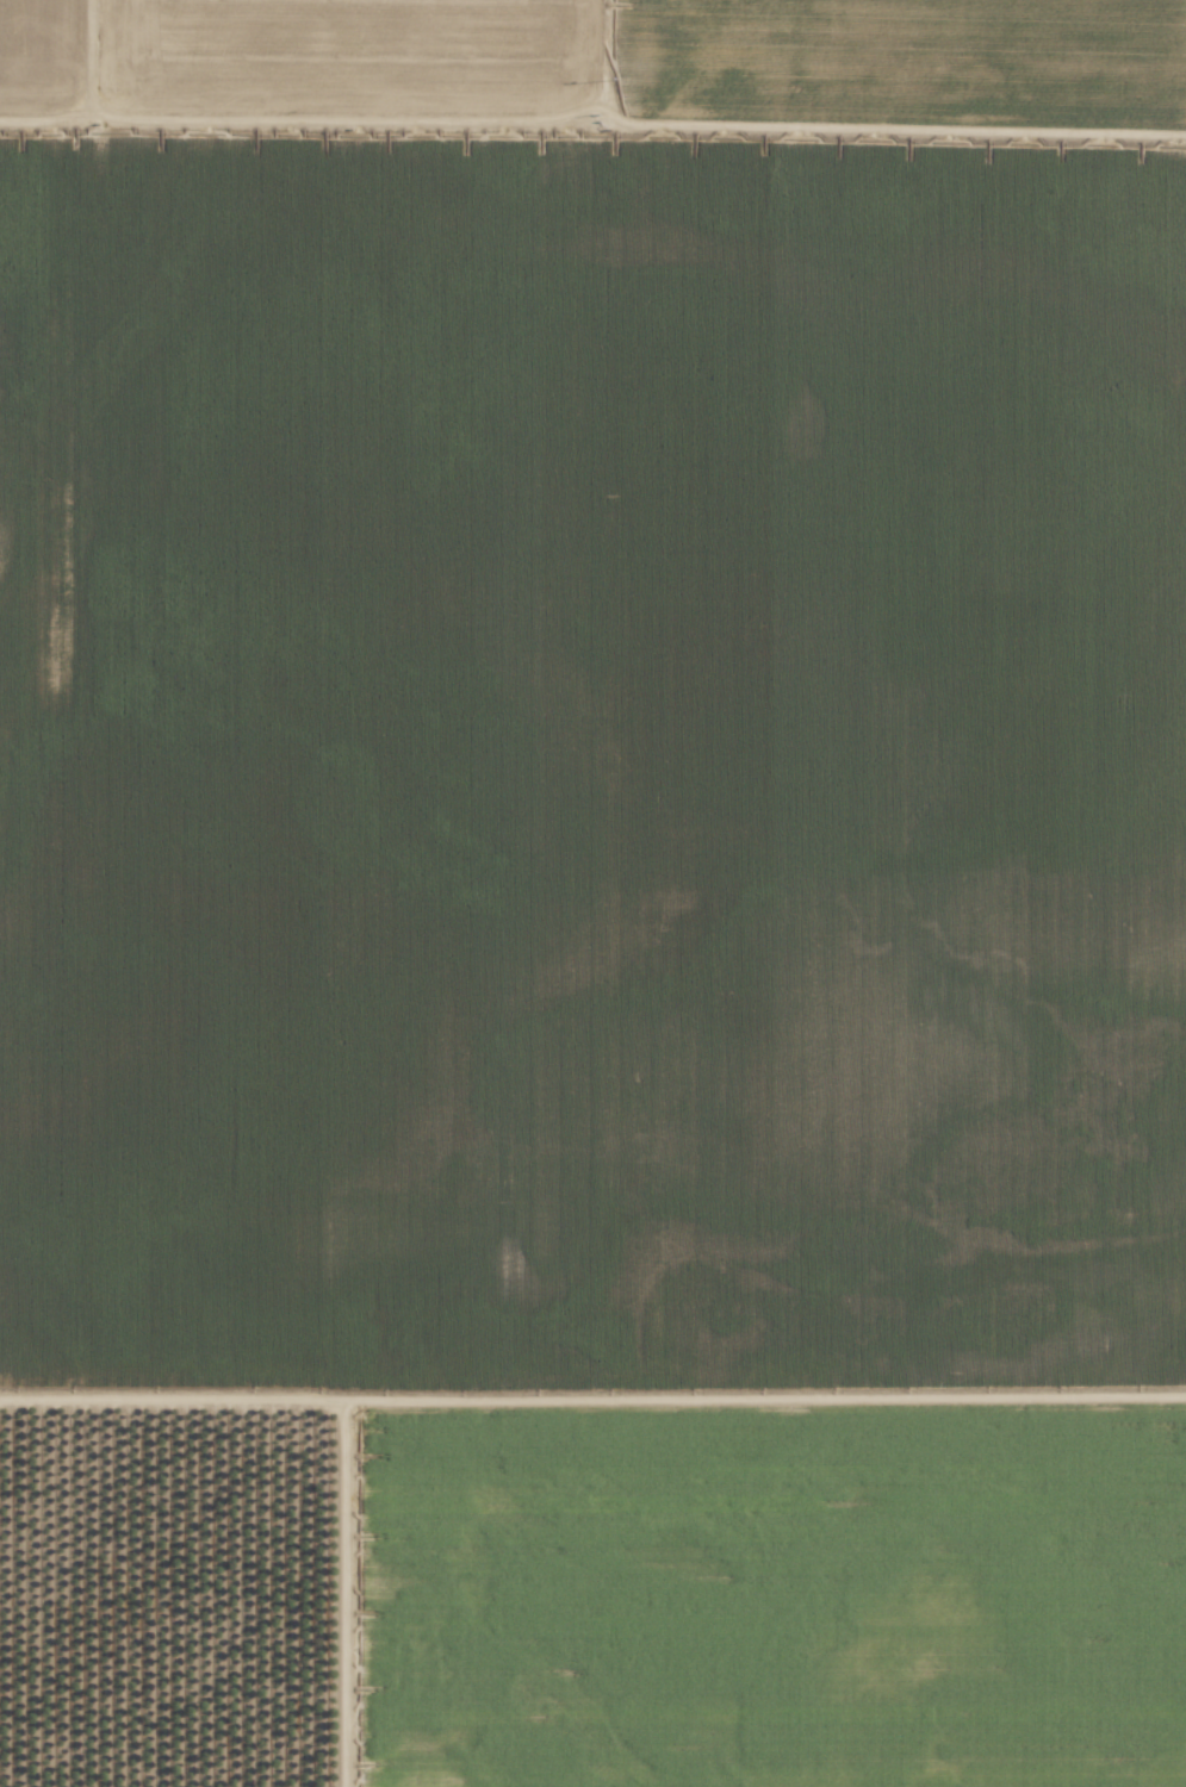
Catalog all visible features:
crop: (592, 893)

